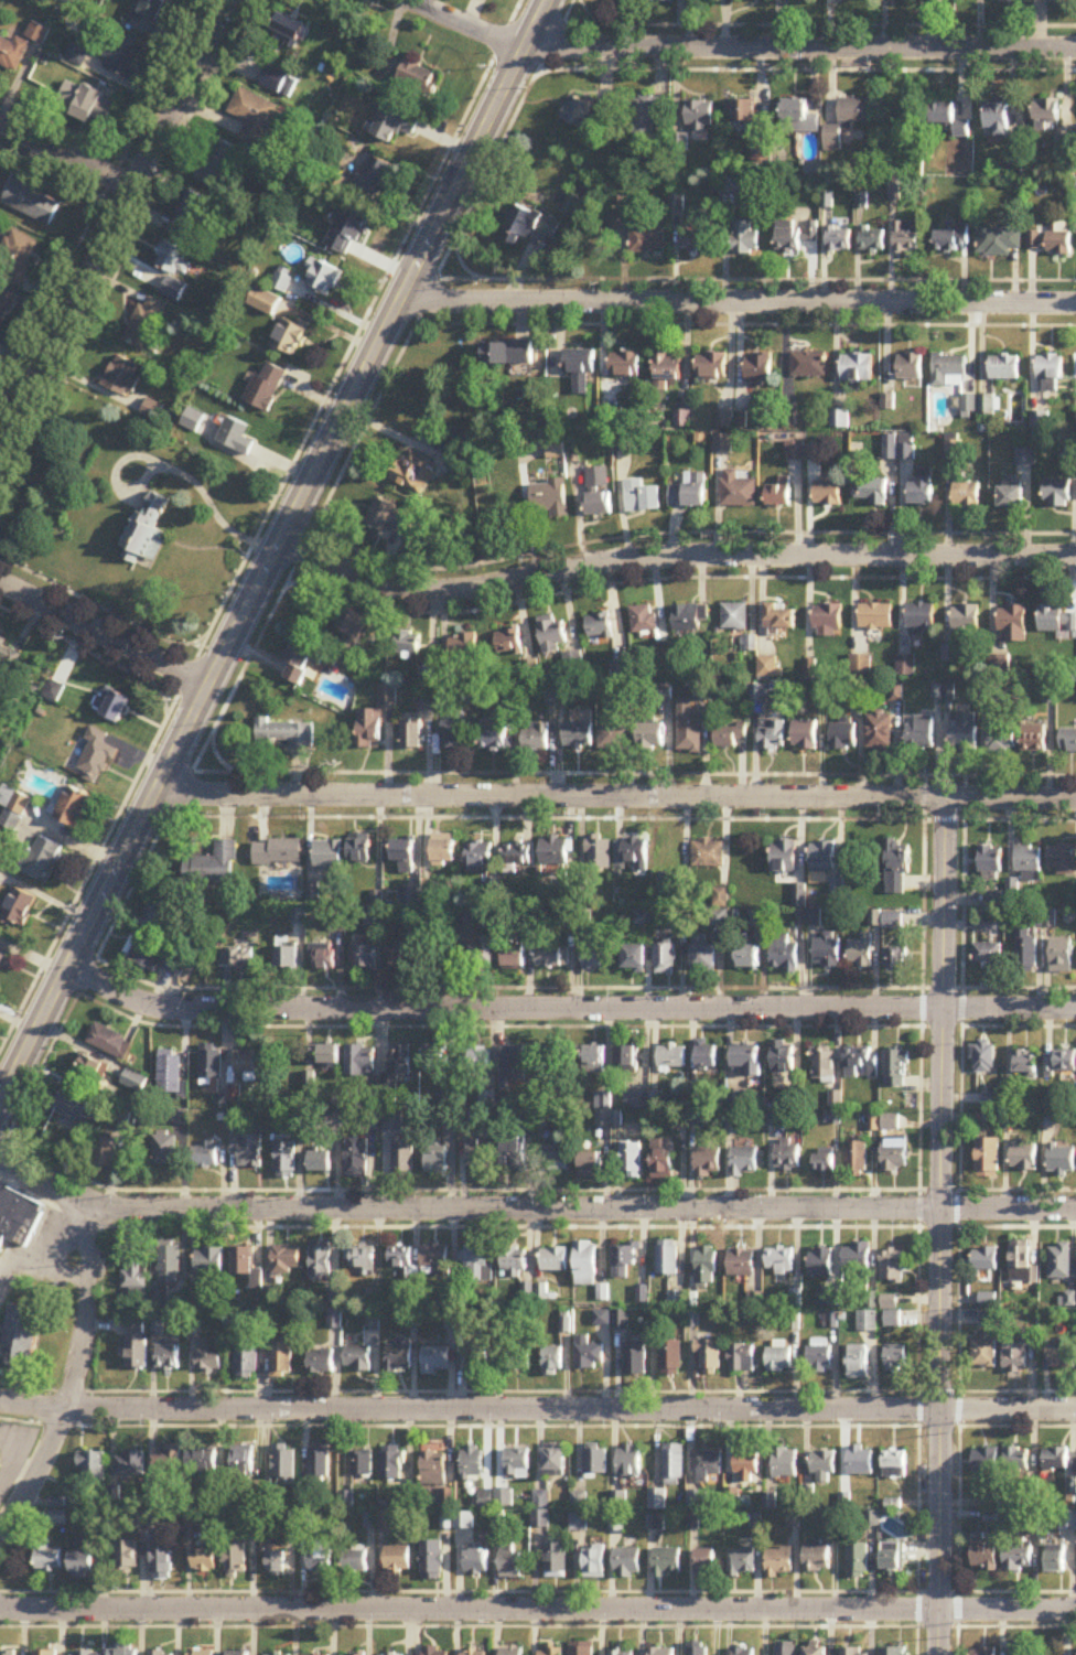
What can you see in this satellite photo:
building: (668, 1)
building: (148, 17)
road: (818, 22)
building: (288, 30)
building: (37, 33)
road: (740, 44)
building: (13, 54)
building: (77, 55)
building: (120, 55)
road: (799, 67)
building: (416, 75)
building: (273, 79)
building: (85, 104)
building: (584, 110)
building: (853, 111)
building: (1047, 111)
building: (743, 112)
building: (643, 115)
building: (252, 116)
building: (699, 116)
building: (799, 117)
building: (949, 119)
building: (998, 120)
building: (394, 123)
road: (66, 155)
building: (217, 165)
building: (375, 176)
building: (735, 186)
building: (577, 202)
building: (31, 203)
building: (187, 217)
building: (535, 224)
road: (111, 230)
building: (639, 233)
building: (906, 237)
building: (695, 238)
building: (796, 238)
building: (745, 239)
building: (839, 240)
building: (1051, 240)
building: (872, 241)
building: (951, 241)
building: (999, 241)
building: (17, 258)
building: (173, 260)
road: (461, 264)
road: (754, 277)
building: (323, 279)
building: (173, 290)
road: (738, 299)
building: (4, 301)
building: (265, 302)
road: (745, 322)
building: (144, 323)
building: (289, 336)
building: (507, 353)
building: (625, 365)
building: (808, 365)
building: (711, 366)
building: (910, 367)
building: (857, 368)
building: (1004, 368)
building: (1050, 368)
building: (667, 369)
building: (758, 369)
building: (581, 370)
building: (949, 370)
building: (122, 378)
building: (266, 387)
building: (151, 410)
building: (840, 419)
building: (227, 434)
building: (1024, 458)
building: (413, 473)
building: (598, 477)
building: (739, 490)
building: (689, 492)
building: (871, 492)
building: (921, 492)
building: (827, 493)
building: (778, 494)
building: (1057, 494)
road: (205, 495)
building: (967, 495)
building: (642, 497)
building: (549, 498)
building: (1011, 498)
building: (599, 504)
building: (385, 523)
road: (260, 525)
road: (681, 530)
building: (147, 531)
road: (272, 549)
road: (670, 555)
road: (288, 576)
road: (672, 576)
building: (689, 617)
building: (734, 617)
building: (875, 617)
building: (779, 619)
building: (644, 620)
building: (828, 620)
building: (919, 620)
building: (1012, 620)
building: (1056, 621)
building: (967, 622)
building: (599, 626)
road: (104, 633)
building: (551, 634)
building: (508, 643)
building: (407, 644)
building: (3, 646)
building: (464, 647)
building: (302, 664)
building: (861, 665)
building: (111, 705)
building: (369, 730)
building: (690, 731)
building: (880, 732)
building: (922, 732)
building: (965, 733)
building: (453, 734)
building: (578, 734)
building: (772, 734)
building: (805, 734)
building: (283, 735)
building: (650, 735)
building: (730, 735)
building: (843, 737)
building: (412, 738)
building: (536, 738)
building: (614, 738)
building: (493, 739)
building: (1034, 739)
building: (1002, 740)
building: (1068, 741)
road: (217, 754)
building: (96, 756)
road: (633, 771)
road: (615, 793)
building: (72, 808)
road: (621, 815)
building: (361, 848)
building: (444, 851)
building: (278, 852)
building: (327, 852)
building: (555, 852)
building: (600, 853)
building: (632, 853)
building: (709, 853)
building: (403, 856)
building: (517, 857)
building: (784, 857)
building: (824, 857)
building: (480, 858)
building: (42, 859)
building: (1063, 859)
building: (991, 863)
building: (1029, 863)
building: (213, 867)
building: (896, 868)
building: (410, 898)
building: (18, 909)
building: (644, 917)
building: (161, 918)
building: (374, 918)
building: (569, 918)
building: (757, 918)
building: (809, 918)
building: (875, 918)
building: (892, 921)
building: (990, 948)
building: (828, 952)
building: (862, 952)
building: (1027, 952)
building: (483, 954)
building: (745, 954)
building: (785, 954)
building: (703, 956)
building: (1063, 956)
building: (287, 957)
building: (364, 957)
building: (401, 957)
building: (515, 957)
building: (553, 957)
building: (594, 957)
building: (634, 957)
building: (237, 958)
building: (324, 958)
building: (665, 958)
building: (155, 959)
building: (897, 960)
building: (2, 961)
road: (582, 985)
road: (567, 1007)
road: (516, 1023)
road: (1019, 1024)
building: (110, 1042)
building: (327, 1056)
building: (672, 1057)
building: (783, 1057)
building: (984, 1057)
building: (708, 1058)
building: (435, 1060)
building: (480, 1061)
building: (594, 1061)
building: (626, 1061)
building: (747, 1061)
building: (359, 1062)
building: (247, 1063)
building: (400, 1063)
building: (1062, 1063)
building: (515, 1064)
building: (825, 1064)
building: (1027, 1064)
building: (211, 1065)
building: (859, 1066)
building: (897, 1068)
building: (93, 1071)
building: (170, 1073)
building: (136, 1081)
building: (638, 1101)
building: (74, 1103)
building: (604, 1110)
building: (526, 1118)
building: (735, 1121)
building: (392, 1122)
building: (892, 1122)
building: (165, 1150)
building: (249, 1151)
building: (896, 1153)
building: (205, 1154)
building: (477, 1154)
building: (513, 1154)
building: (105, 1156)
building: (788, 1156)
building: (1025, 1157)
building: (558, 1158)
building: (989, 1158)
building: (356, 1159)
building: (858, 1159)
building: (284, 1160)
building: (403, 1160)
building: (663, 1160)
building: (1063, 1160)
building: (745, 1161)
building: (632, 1162)
building: (709, 1162)
building: (320, 1163)
building: (437, 1163)
building: (825, 1163)
building: (591, 1167)
road: (475, 1186)
road: (1019, 1187)
road: (531, 1208)
road: (919, 1213)
road: (957, 1213)
building: (19, 1218)
road: (473, 1224)
road: (939, 1225)
road: (1018, 1225)
road: (43, 1255)
building: (399, 1258)
building: (359, 1259)
building: (668, 1259)
building: (284, 1260)
building: (553, 1260)
building: (782, 1260)
building: (859, 1260)
building: (987, 1260)
building: (208, 1261)
building: (241, 1261)
building: (320, 1261)
building: (434, 1261)
building: (822, 1262)
building: (1022, 1262)
building: (1062, 1262)
building: (169, 1264)
building: (476, 1264)
building: (513, 1264)
building: (624, 1264)
building: (743, 1264)
building: (585, 1266)
building: (708, 1267)
building: (134, 1268)
building: (894, 1268)
building: (677, 1301)
building: (891, 1302)
building: (601, 1319)
building: (335, 1320)
building: (894, 1320)
building: (621, 1321)
building: (373, 1322)
building: (868, 1322)
building: (20, 1339)
building: (136, 1348)
building: (984, 1352)
building: (1015, 1353)
building: (587, 1355)
building: (477, 1356)
building: (819, 1357)
building: (1062, 1357)
building: (168, 1358)
building: (398, 1358)
building: (357, 1360)
building: (671, 1360)
building: (709, 1360)
building: (743, 1360)
building: (896, 1360)
building: (208, 1361)
building: (247, 1361)
building: (280, 1361)
building: (320, 1361)
building: (434, 1361)
building: (516, 1361)
building: (634, 1361)
building: (779, 1361)
building: (552, 1362)
building: (859, 1364)
road: (75, 1373)
road: (1018, 1388)
road: (478, 1389)
road: (42, 1406)
road: (537, 1407)
road: (1018, 1422)
road: (477, 1425)
road: (9, 1449)
building: (168, 1460)
building: (1016, 1460)
building: (1055, 1460)
building: (203, 1461)
building: (553, 1461)
building: (516, 1462)
building: (594, 1462)
building: (627, 1462)
building: (860, 1462)
building: (984, 1462)
building: (244, 1463)
building: (321, 1463)
building: (363, 1463)
building: (391, 1463)
building: (472, 1463)
building: (784, 1463)
building: (130, 1464)
building: (746, 1464)
building: (894, 1464)
building: (672, 1465)
building: (284, 1466)
building: (706, 1466)
building: (93, 1468)
building: (822, 1468)
building: (433, 1469)
building: (495, 1498)
building: (348, 1500)
building: (657, 1500)
building: (579, 1501)
building: (617, 1501)
building: (57, 1519)
building: (464, 1520)
building: (1067, 1520)
building: (579, 1523)
building: (655, 1523)
building: (127, 1557)
building: (983, 1557)
building: (1016, 1557)
building: (49, 1558)
building: (557, 1558)
building: (890, 1558)
building: (398, 1559)
building: (816, 1559)
building: (320, 1560)
building: (356, 1560)
building: (432, 1560)
building: (707, 1560)
building: (1054, 1560)
building: (236, 1561)
building: (857, 1561)
building: (162, 1562)
building: (206, 1562)
building: (477, 1562)
building: (626, 1562)
building: (666, 1562)
building: (741, 1562)
building: (778, 1562)
building: (509, 1563)
building: (594, 1563)
building: (83, 1566)
building: (277, 1566)
road: (537, 1590)
road: (537, 1608)
road: (538, 1625)
building: (1018, 1647)
building: (785, 1648)
building: (582, 1649)
building: (697, 1649)
building: (435, 1651)
building: (663, 1651)
building: (741, 1651)
building: (815, 1651)
building: (893, 1651)
building: (123, 1652)
building: (475, 1652)
building: (512, 1652)
building: (552, 1652)
building: (621, 1652)
building: (854, 1652)
building: (983, 1652)
building: (9, 1653)
building: (45, 1653)
building: (87, 1653)
building: (160, 1653)
building: (201, 1653)
building: (239, 1653)
building: (278, 1654)
building: (392, 1654)

